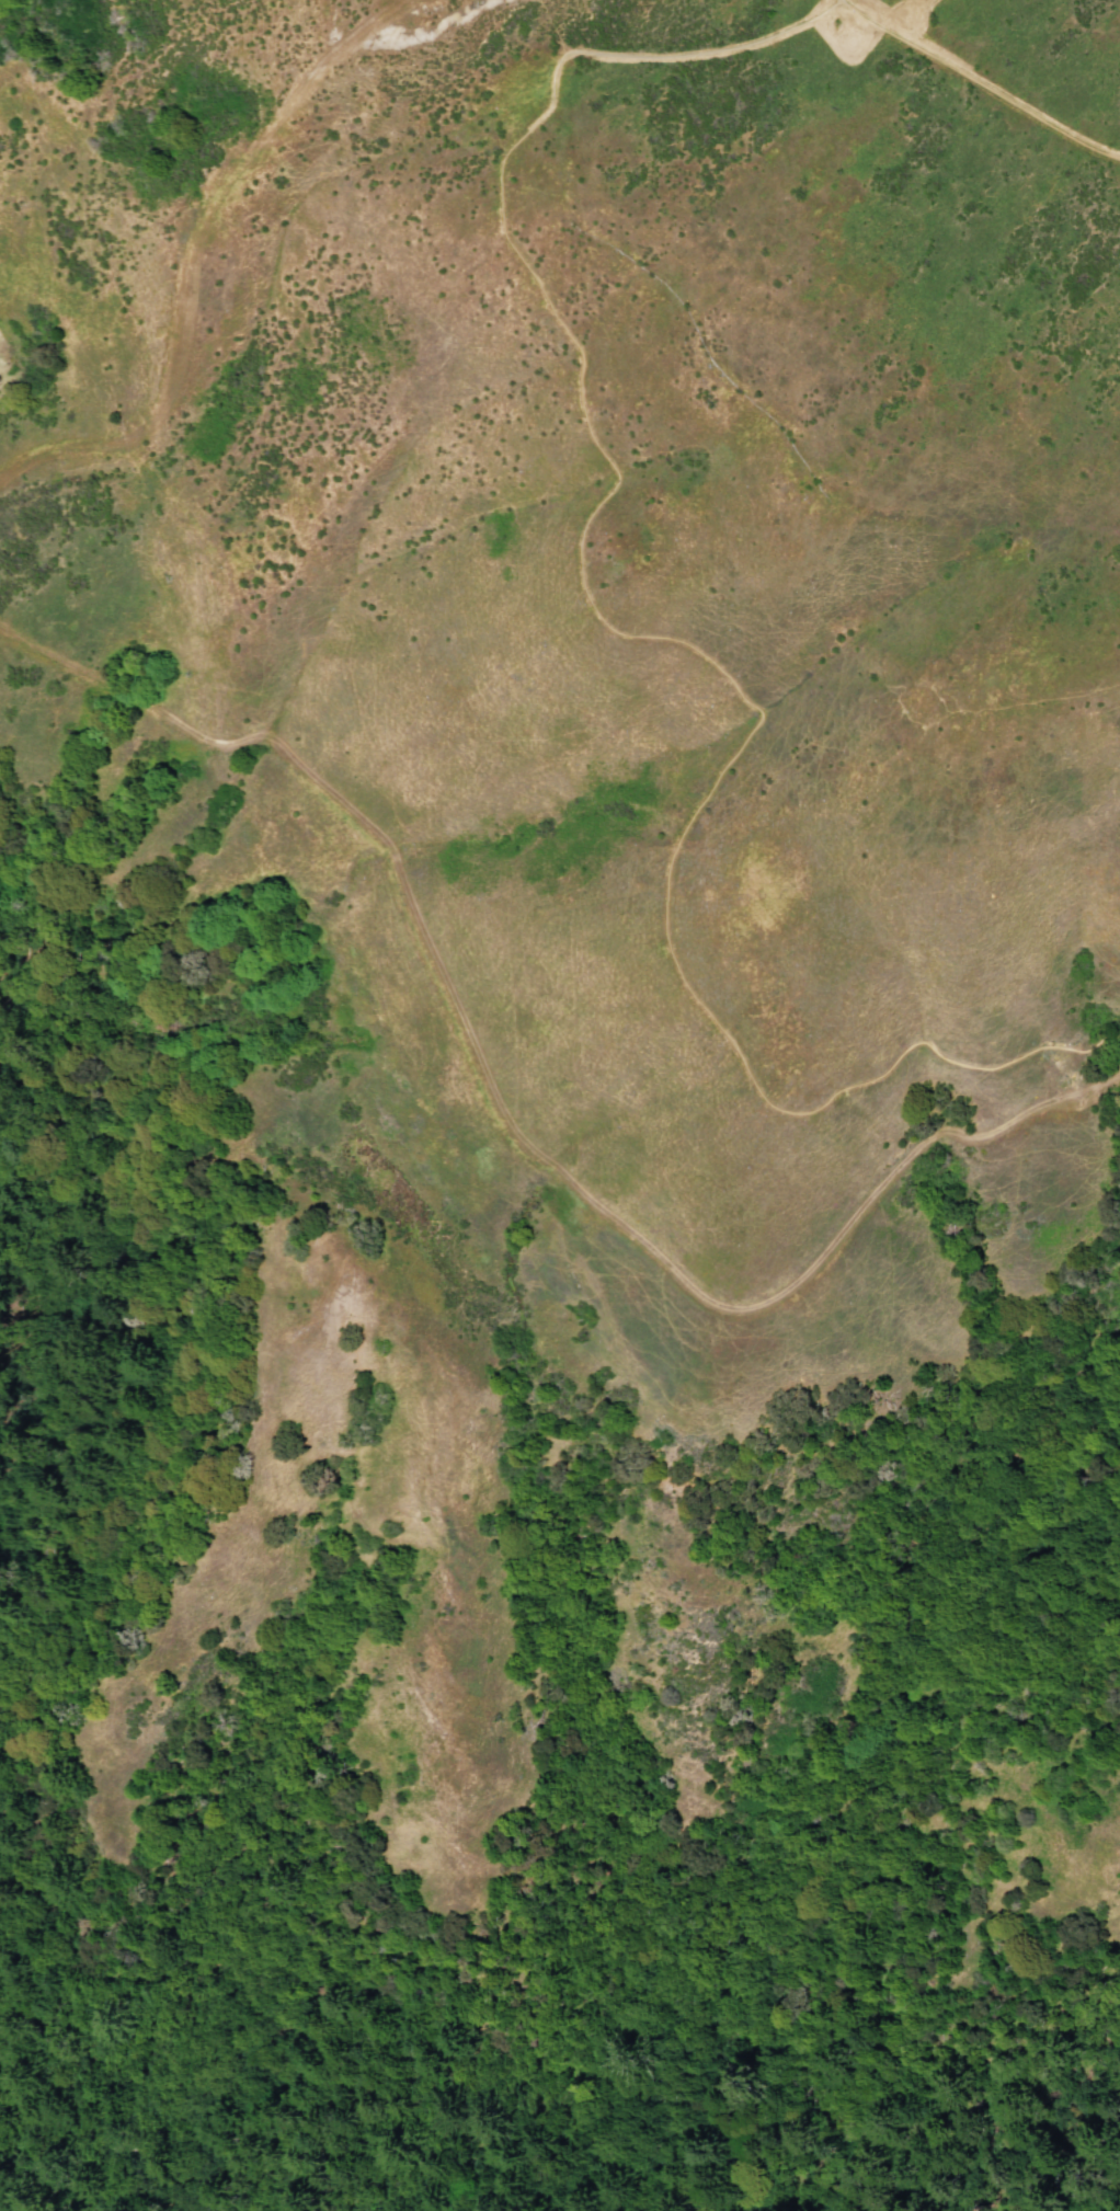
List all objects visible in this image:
road: (835, 1)
road: (837, 1)
road: (975, 85)
road: (194, 257)
road: (652, 637)
road: (57, 661)
road: (432, 961)
road: (896, 1165)

